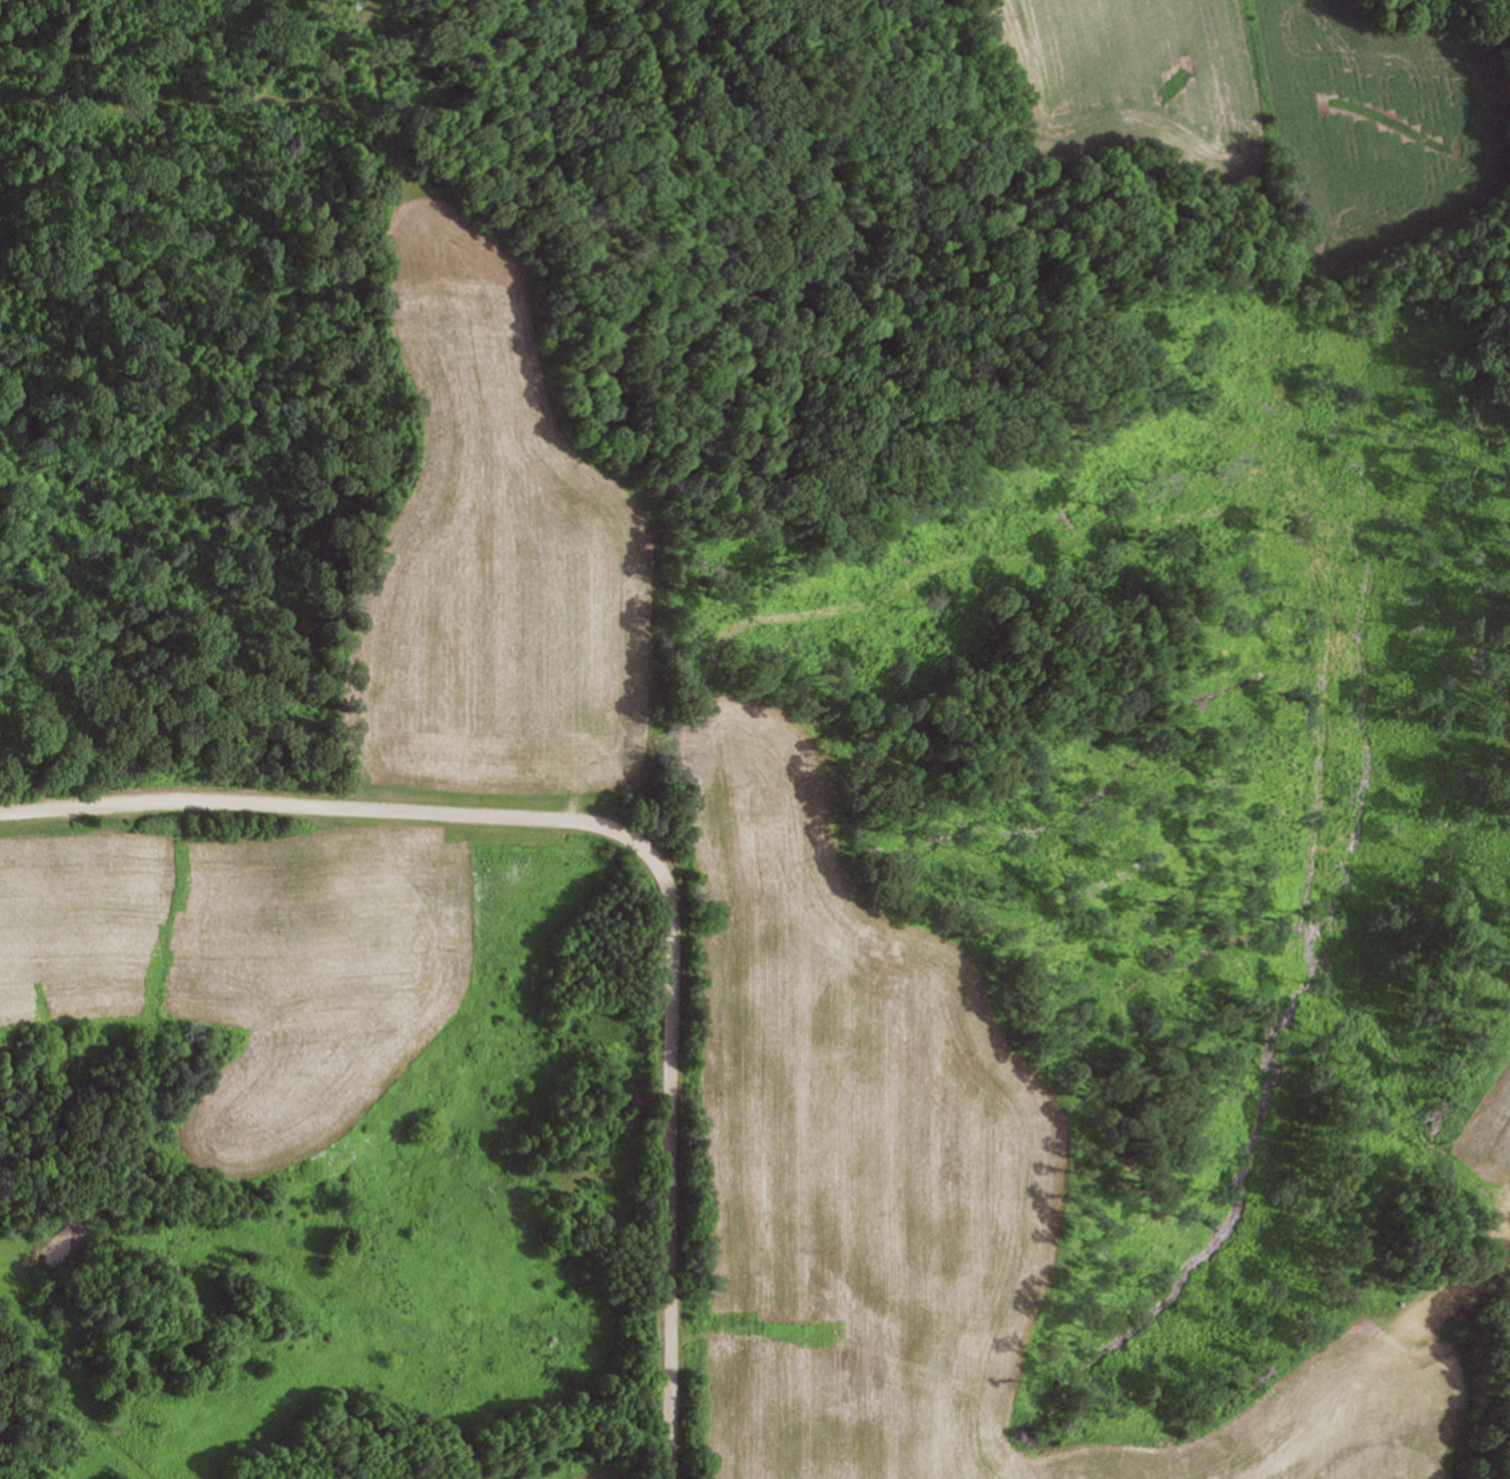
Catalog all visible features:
crop: (1254, 98)
crop: (488, 553)
road: (642, 841)
crop: (246, 944)
crop: (1487, 1139)
crop: (909, 1184)
crop: (26, 1250)
crop: (640, 1472)

